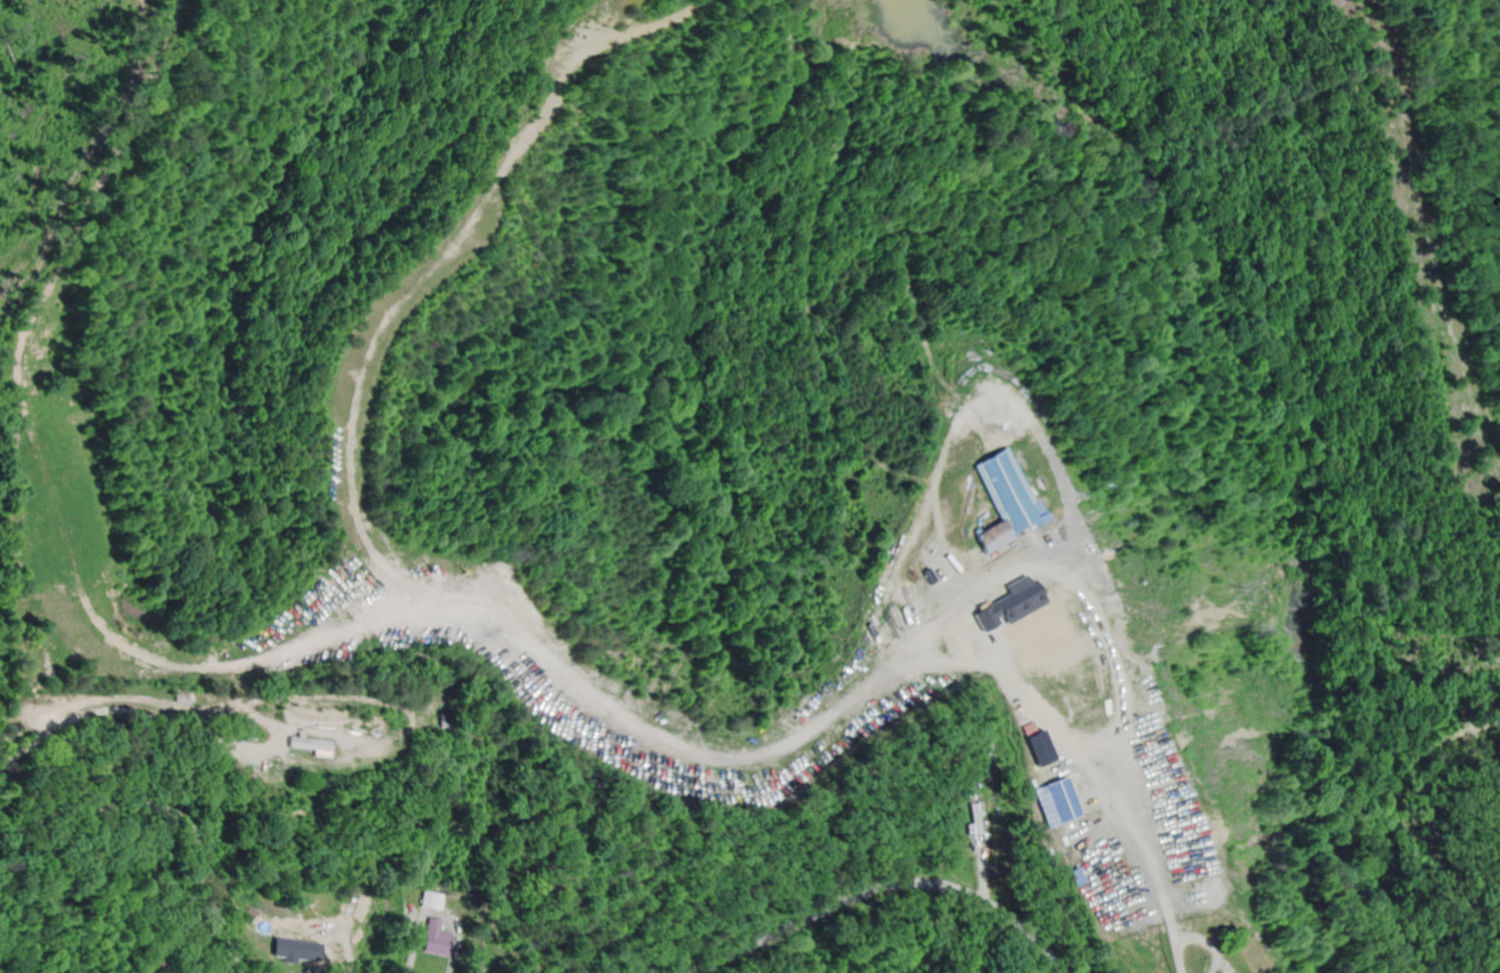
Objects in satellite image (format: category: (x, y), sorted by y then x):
building: (997, 503)
building: (183, 698)
building: (307, 745)
building: (1058, 802)
building: (978, 820)
road: (885, 890)
road: (1197, 908)
building: (436, 940)
building: (286, 951)

